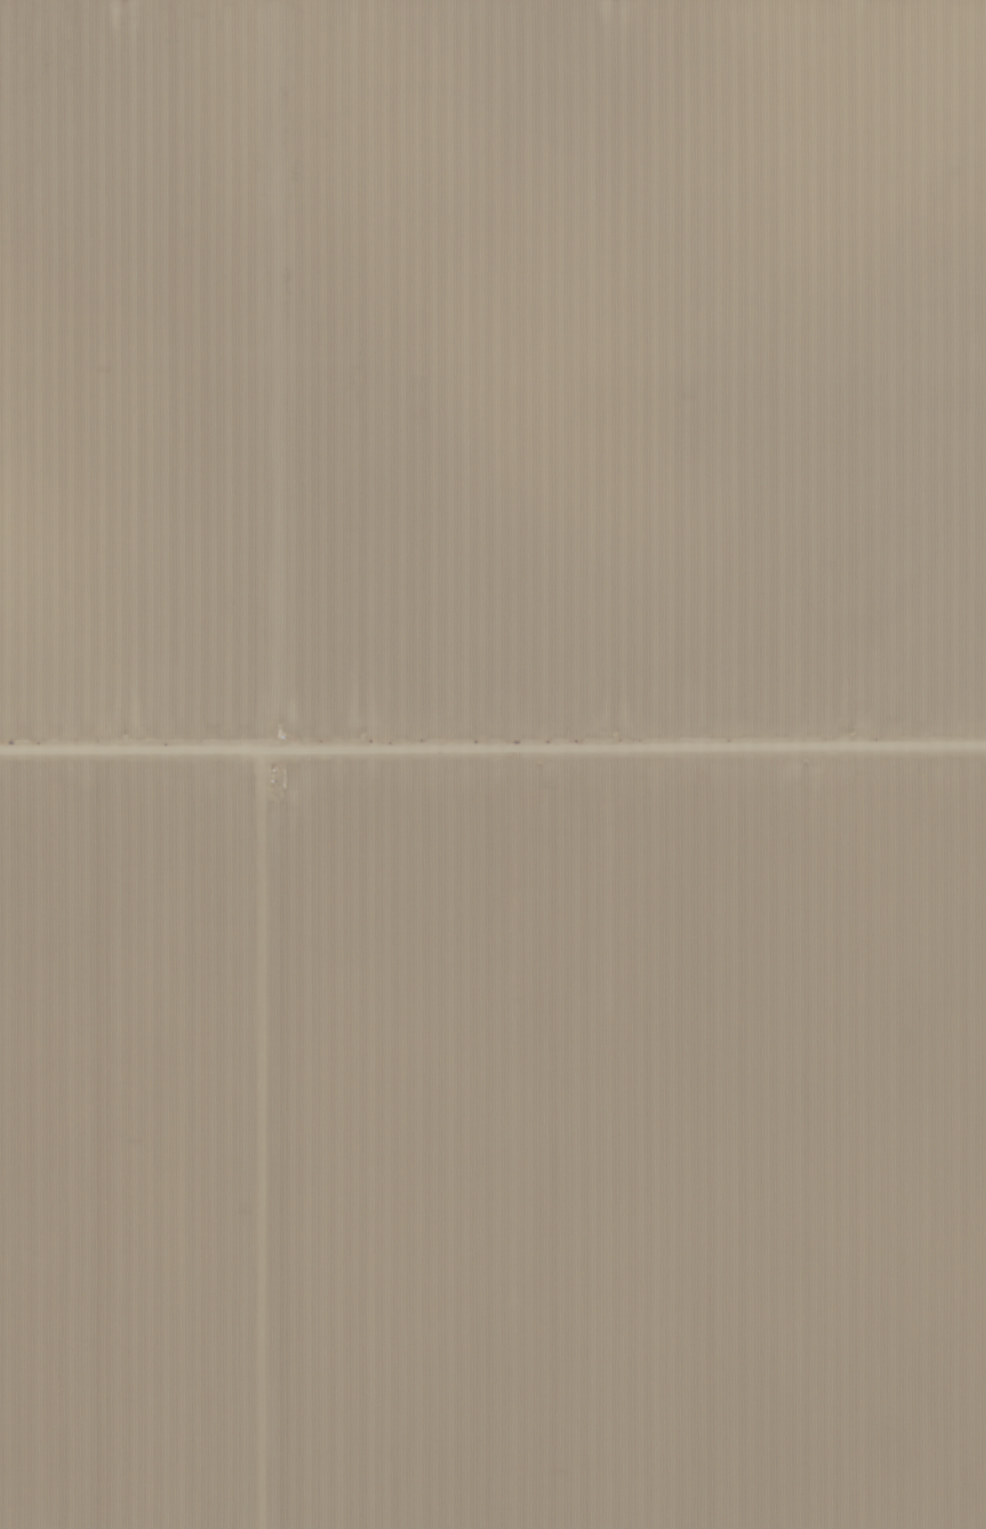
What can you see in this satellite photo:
crop: (492, 377)
road: (493, 752)
crop: (493, 1142)

